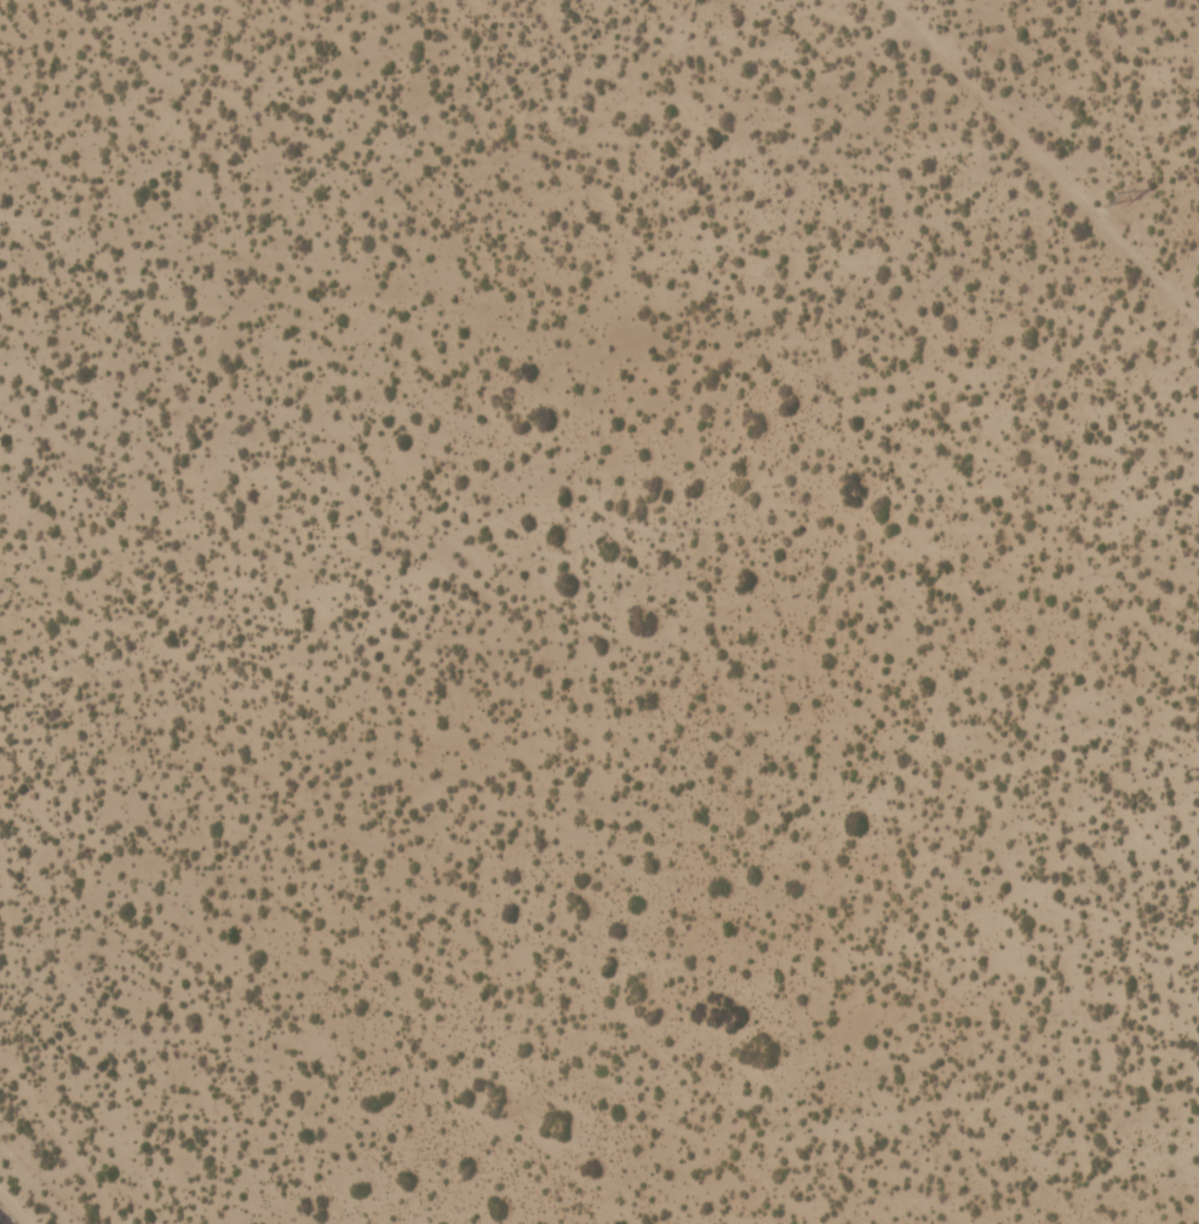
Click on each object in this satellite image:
road: (1048, 160)
power tower: (1105, 195)
road: (67, 1143)
road: (1, 1222)

